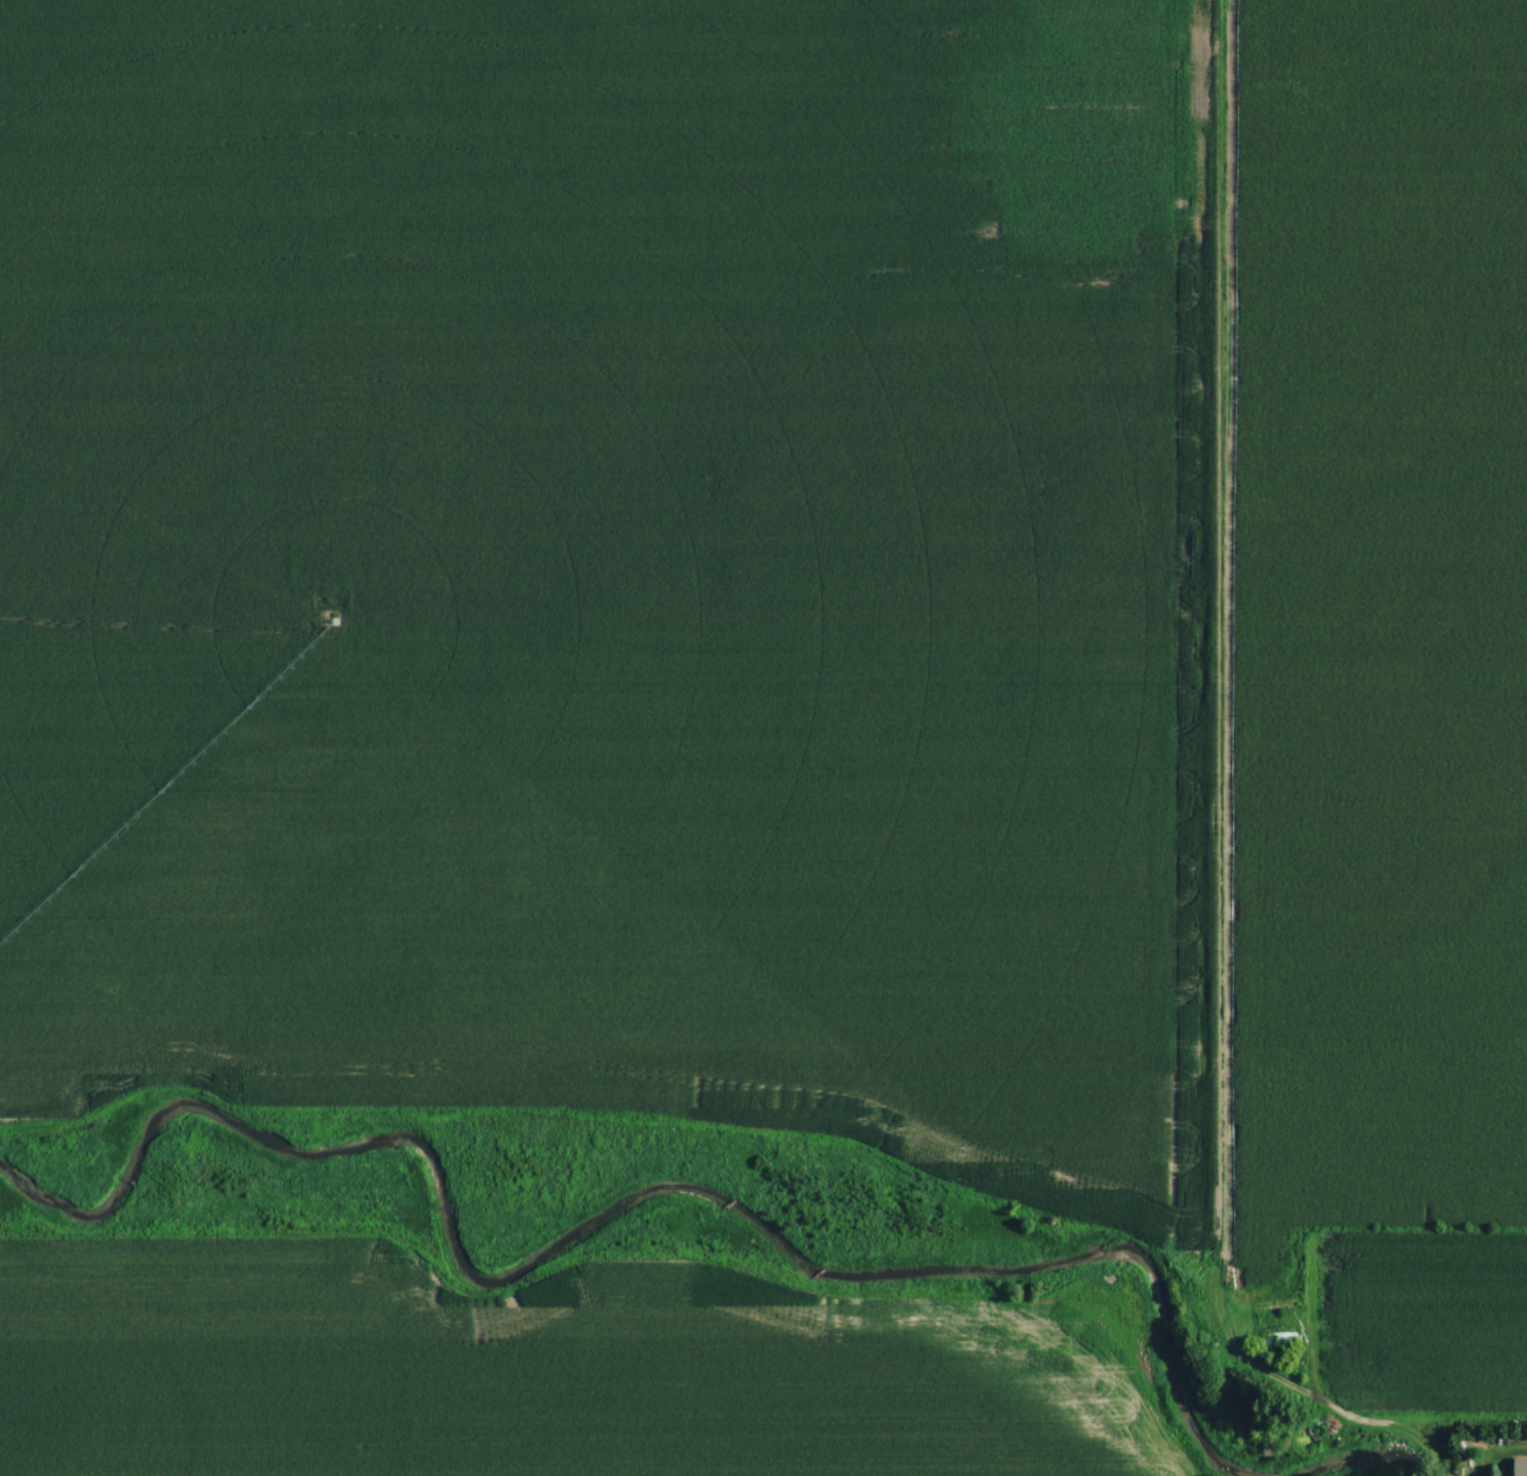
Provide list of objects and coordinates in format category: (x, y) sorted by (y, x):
building: (1260, 1340)
building: (1286, 1340)
building: (1521, 1467)

